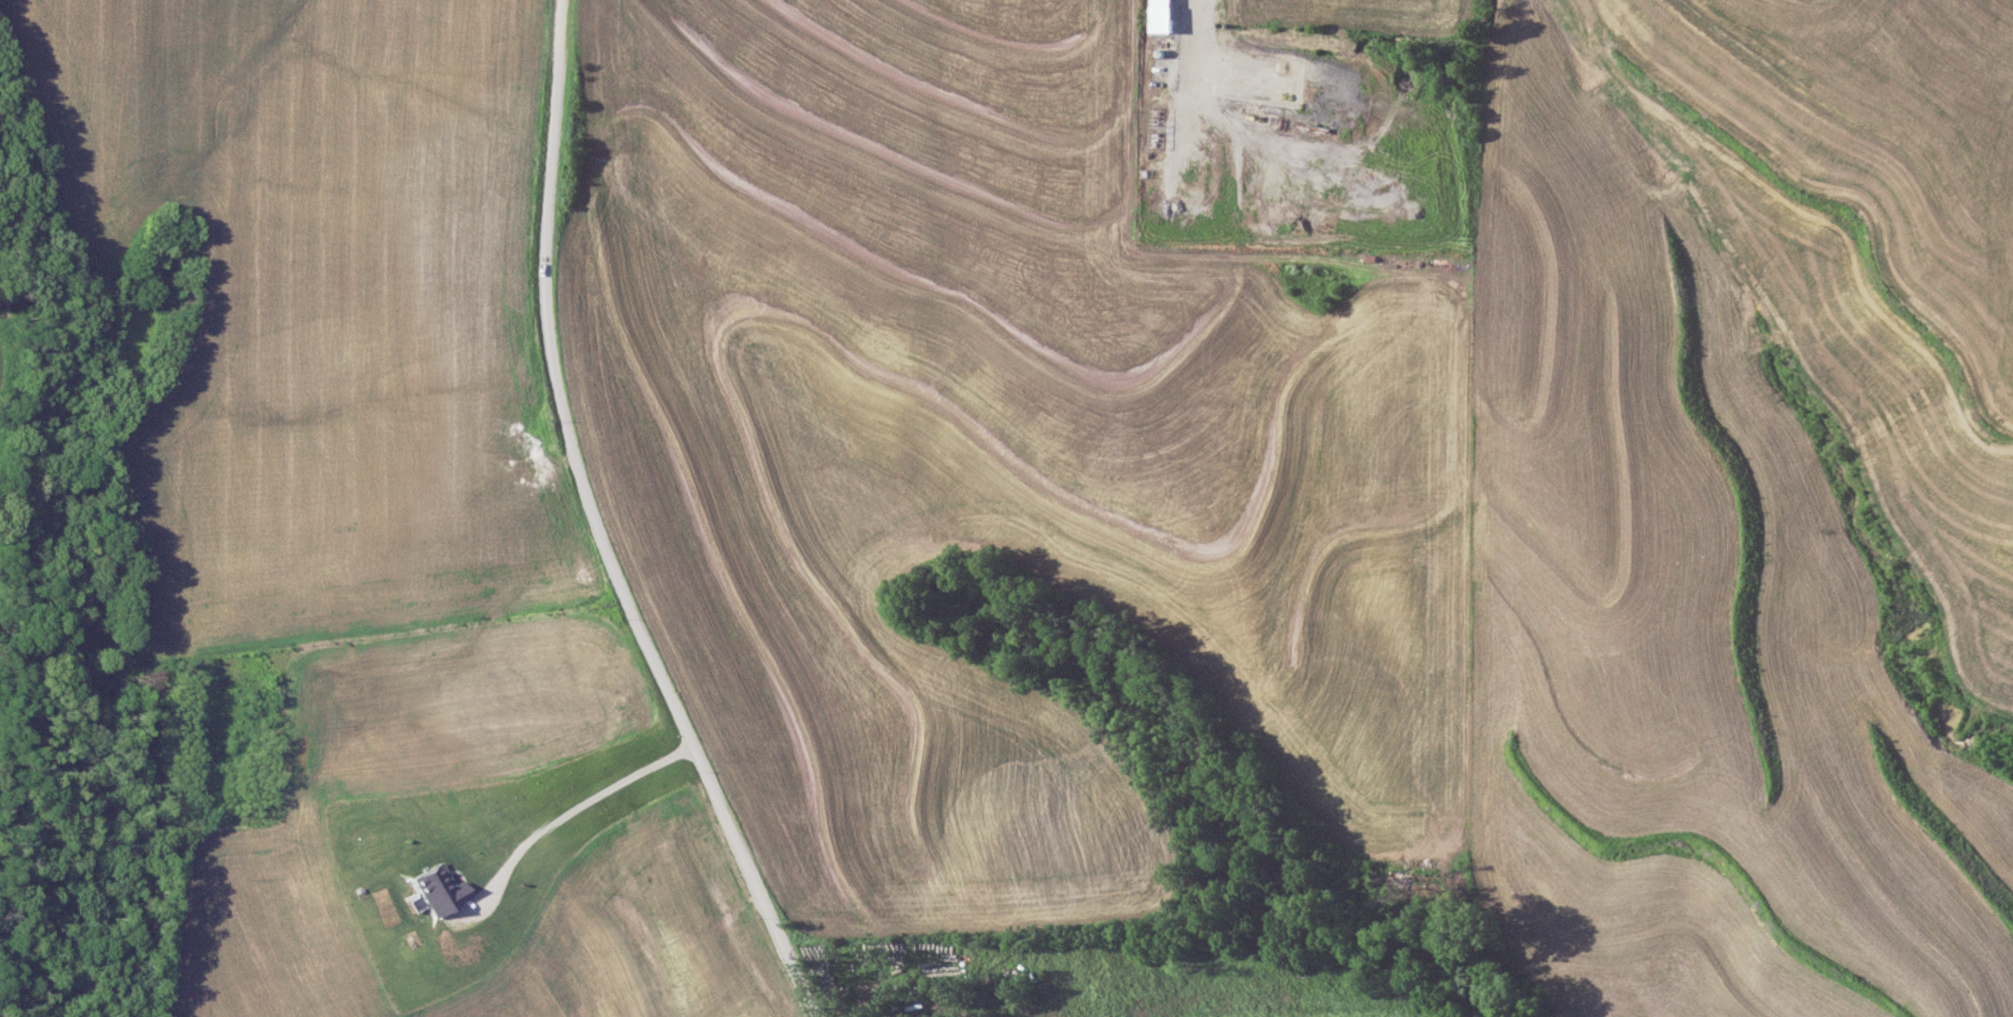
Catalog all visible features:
building: (1163, 16)
building: (1267, 80)
road: (555, 107)
road: (639, 627)
building: (443, 890)

